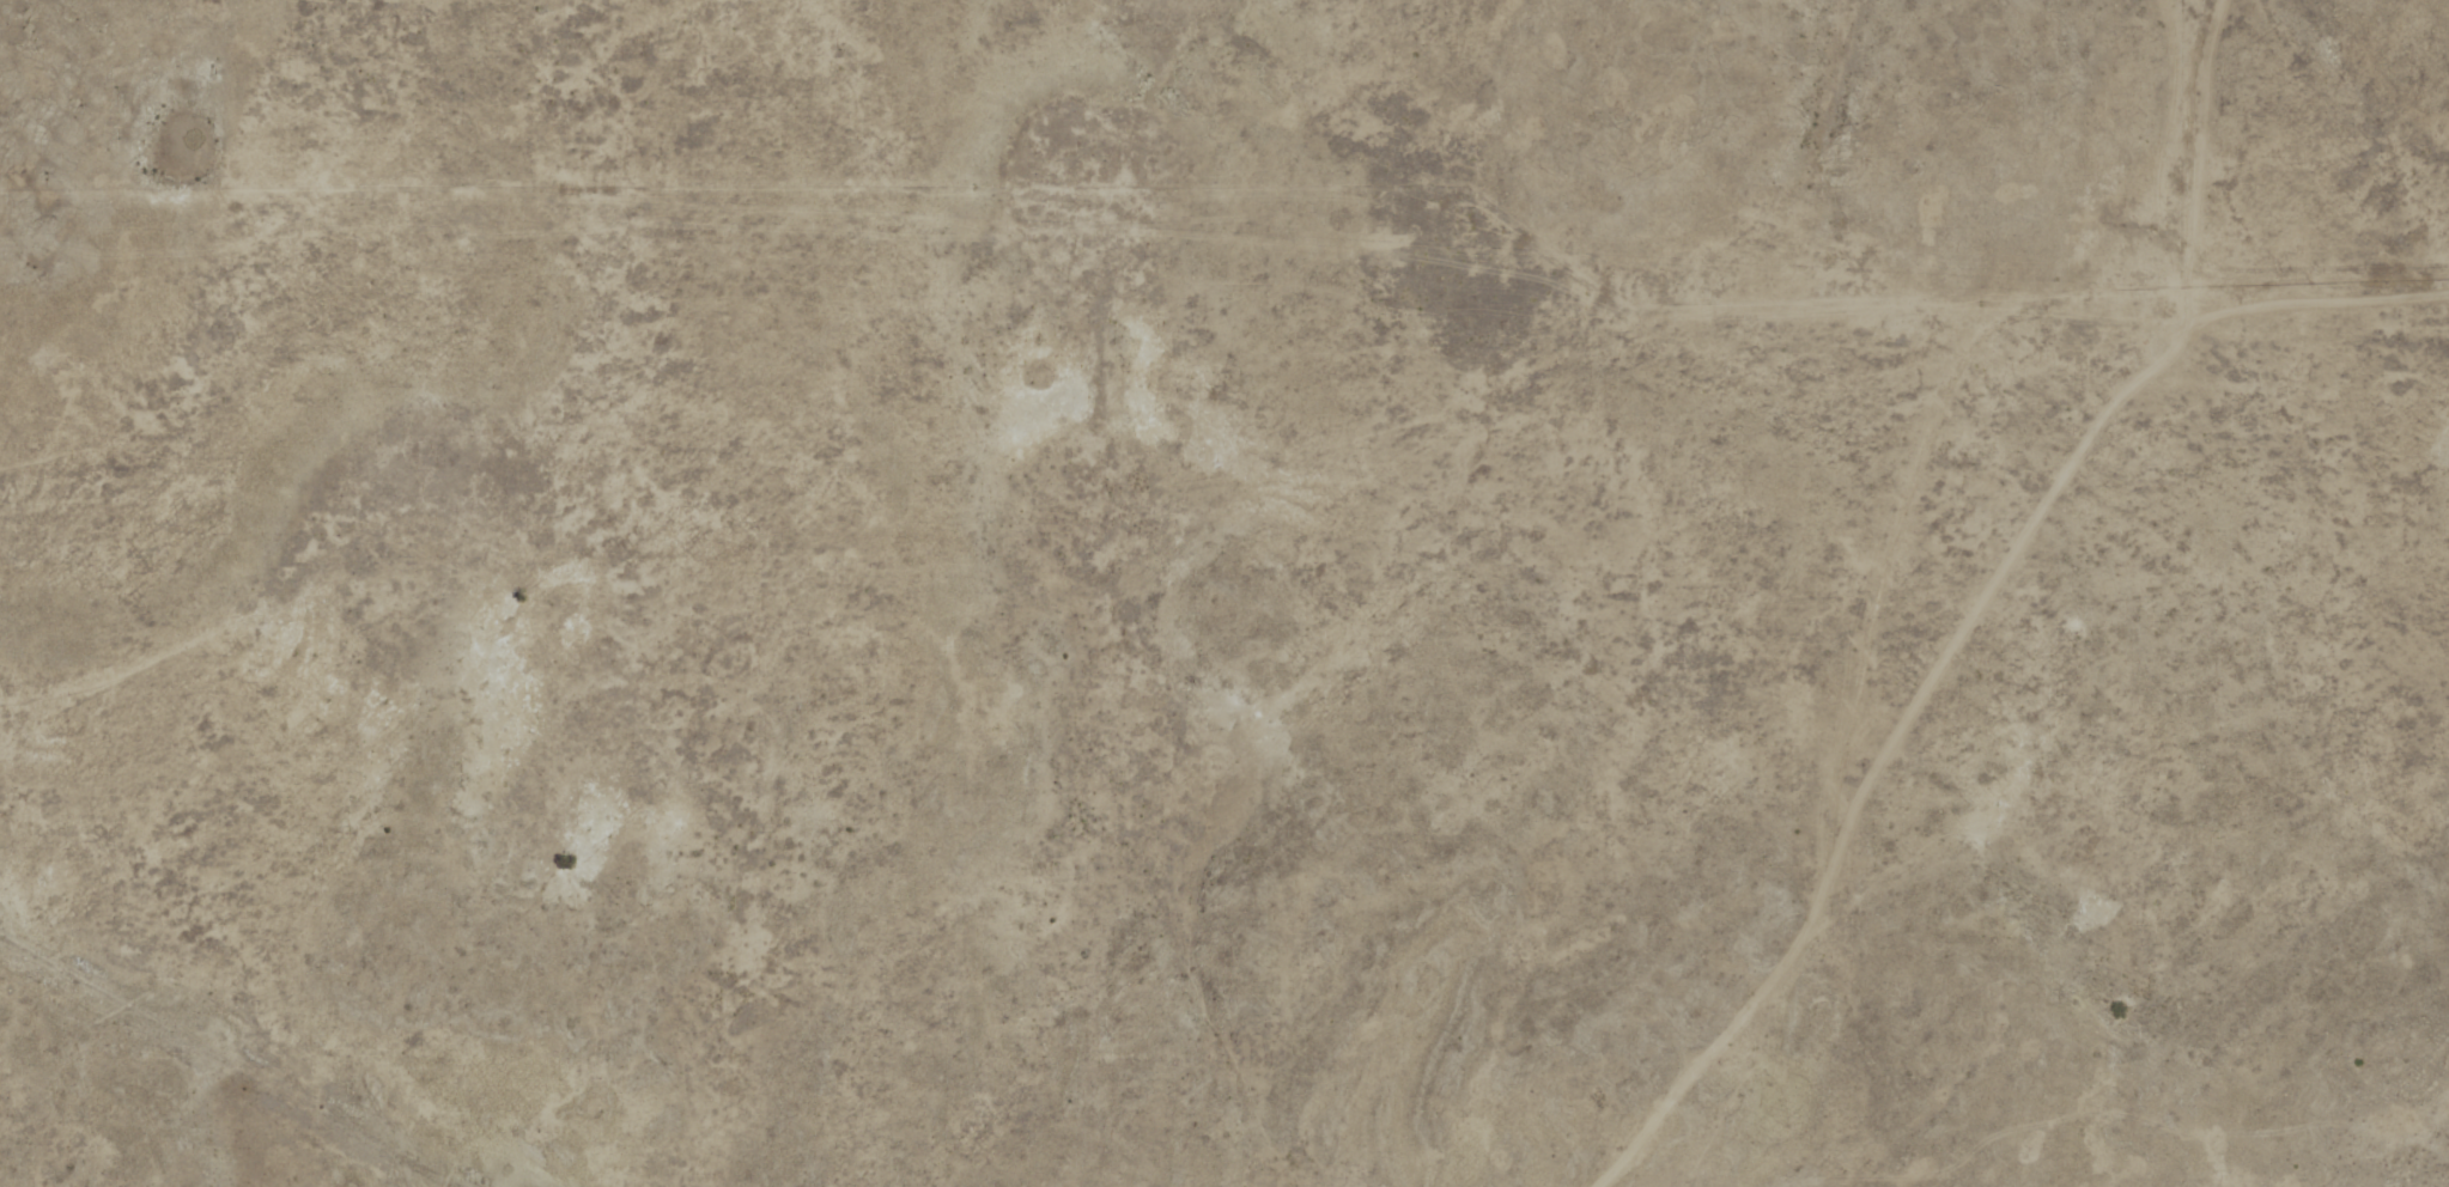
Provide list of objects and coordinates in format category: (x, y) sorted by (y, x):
road: (2198, 252)

